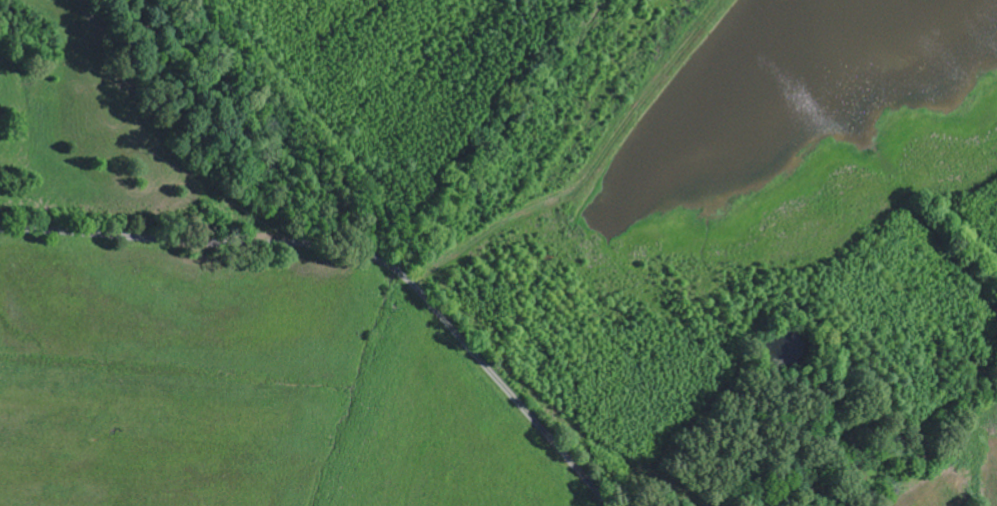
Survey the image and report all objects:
road: (356, 257)

